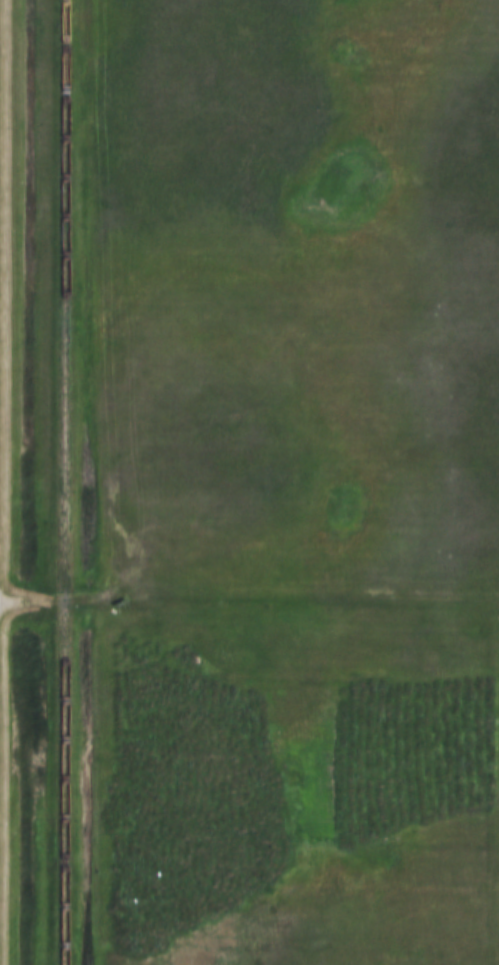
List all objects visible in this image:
railway: (61, 482)

